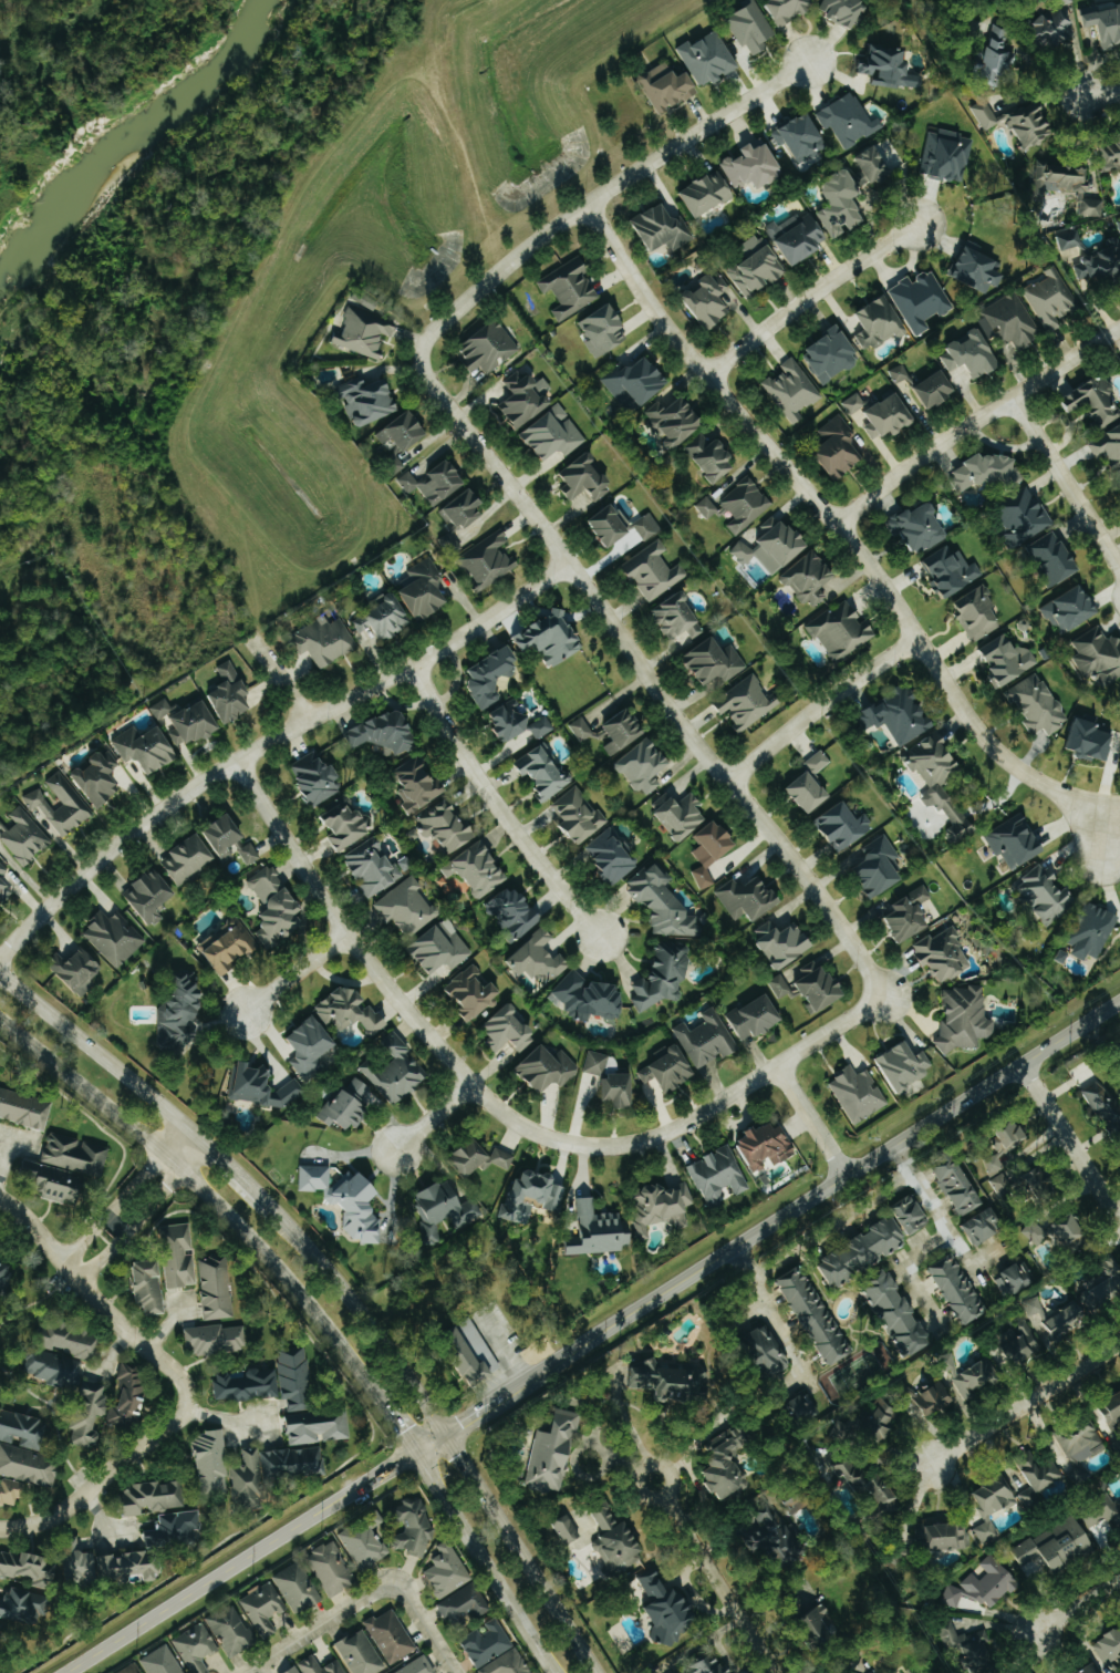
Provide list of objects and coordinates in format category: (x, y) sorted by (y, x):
building: (1059, 1)
building: (777, 8)
building: (839, 11)
building: (1101, 22)
building: (745, 25)
building: (1047, 28)
building: (703, 55)
building: (987, 59)
building: (882, 66)
building: (660, 84)
road: (1097, 94)
building: (844, 118)
building: (1012, 123)
building: (796, 136)
river: (128, 138)
building: (1108, 152)
building: (944, 154)
building: (867, 163)
building: (745, 165)
building: (1064, 185)
building: (699, 192)
road: (592, 198)
building: (833, 202)
building: (654, 227)
building: (1118, 228)
building: (792, 236)
building: (1065, 238)
building: (1098, 260)
building: (750, 267)
building: (972, 268)
building: (564, 287)
building: (702, 297)
building: (1048, 297)
road: (808, 298)
building: (916, 299)
building: (873, 320)
building: (1005, 320)
building: (597, 328)
building: (363, 330)
building: (480, 345)
building: (965, 352)
building: (823, 353)
building: (895, 372)
building: (630, 379)
building: (927, 386)
building: (790, 389)
building: (360, 399)
building: (1088, 400)
building: (517, 401)
building: (874, 412)
building: (667, 419)
road: (974, 422)
building: (396, 428)
building: (547, 432)
building: (832, 446)
building: (1107, 446)
building: (704, 456)
building: (579, 479)
building: (427, 481)
building: (1119, 483)
road: (1067, 485)
building: (742, 504)
building: (704, 506)
building: (456, 509)
building: (1018, 516)
building: (602, 523)
building: (644, 525)
road: (834, 525)
building: (912, 527)
building: (774, 540)
building: (447, 541)
building: (740, 550)
building: (1046, 557)
building: (483, 560)
building: (945, 569)
building: (649, 570)
building: (803, 578)
building: (416, 588)
building: (1064, 608)
building: (972, 612)
building: (671, 616)
building: (381, 617)
building: (837, 630)
building: (543, 636)
building: (324, 640)
building: (1095, 655)
building: (1003, 659)
building: (707, 660)
building: (483, 674)
road: (279, 675)
road: (652, 688)
building: (232, 693)
building: (742, 702)
building: (1035, 704)
building: (163, 708)
road: (819, 708)
building: (891, 716)
building: (501, 719)
building: (195, 724)
building: (539, 724)
building: (578, 727)
building: (613, 730)
building: (380, 733)
building: (1085, 741)
road: (270, 742)
building: (148, 747)
building: (815, 761)
building: (636, 764)
building: (537, 772)
building: (932, 775)
building: (101, 777)
building: (318, 777)
building: (412, 783)
building: (799, 791)
building: (37, 799)
road: (1116, 805)
road: (496, 810)
building: (673, 814)
building: (572, 815)
building: (346, 824)
building: (836, 824)
building: (439, 827)
building: (227, 833)
road: (1107, 836)
building: (27, 837)
building: (1010, 839)
building: (704, 850)
building: (251, 853)
building: (189, 858)
building: (605, 858)
building: (376, 866)
building: (872, 866)
building: (471, 869)
building: (1038, 892)
building: (152, 895)
building: (742, 898)
building: (658, 902)
building: (407, 906)
building: (277, 907)
building: (508, 913)
building: (902, 913)
building: (1088, 930)
building: (115, 937)
building: (777, 942)
building: (229, 946)
building: (440, 949)
building: (937, 954)
building: (531, 957)
building: (79, 968)
road: (297, 974)
building: (657, 974)
building: (777, 984)
building: (810, 985)
road: (388, 991)
building: (474, 992)
building: (583, 998)
building: (352, 1010)
building: (182, 1015)
building: (746, 1016)
building: (960, 1016)
building: (510, 1030)
building: (702, 1039)
building: (312, 1046)
building: (1096, 1054)
building: (597, 1063)
building: (899, 1065)
building: (548, 1067)
building: (397, 1070)
building: (662, 1071)
road: (750, 1084)
building: (263, 1087)
building: (618, 1089)
building: (853, 1092)
building: (353, 1105)
building: (25, 1108)
road: (432, 1118)
road: (810, 1122)
building: (1000, 1142)
road: (1071, 1144)
building: (758, 1146)
building: (77, 1154)
building: (483, 1157)
road: (148, 1169)
building: (714, 1173)
building: (58, 1181)
building: (997, 1184)
road: (166, 1187)
building: (951, 1187)
building: (533, 1192)
road: (211, 1197)
building: (349, 1199)
building: (664, 1205)
building: (445, 1209)
building: (903, 1214)
road: (935, 1214)
road: (117, 1223)
road: (834, 1225)
building: (1057, 1225)
building: (973, 1226)
road: (765, 1227)
building: (602, 1230)
building: (1033, 1231)
road: (85, 1238)
building: (853, 1250)
building: (180, 1254)
road: (103, 1257)
road: (984, 1261)
road: (906, 1270)
building: (6, 1276)
building: (1012, 1276)
building: (1101, 1281)
road: (342, 1284)
building: (152, 1285)
building: (218, 1288)
building: (951, 1288)
road: (91, 1293)
road: (771, 1305)
building: (886, 1311)
building: (1046, 1314)
building: (809, 1315)
building: (69, 1339)
building: (217, 1339)
building: (1013, 1342)
road: (502, 1347)
building: (765, 1349)
building: (477, 1355)
building: (958, 1374)
building: (673, 1381)
building: (900, 1390)
building: (289, 1397)
building: (929, 1397)
building: (131, 1398)
building: (96, 1401)
building: (805, 1406)
road: (1023, 1406)
building: (1108, 1411)
building: (875, 1423)
road: (632, 1428)
traffic signals: (445, 1432)
road: (398, 1434)
building: (25, 1448)
building: (554, 1450)
traffic signals: (413, 1455)
building: (728, 1460)
building: (212, 1462)
building: (1034, 1469)
building: (271, 1471)
road: (107, 1474)
building: (872, 1486)
building: (11, 1493)
building: (1025, 1496)
building: (155, 1497)
building: (988, 1502)
building: (1102, 1514)
road: (689, 1527)
building: (415, 1528)
building: (566, 1531)
building: (943, 1535)
building: (774, 1538)
building: (619, 1541)
building: (365, 1545)
building: (1048, 1548)
building: (135, 1553)
road: (238, 1563)
road: (480, 1563)
building: (28, 1569)
building: (332, 1569)
building: (448, 1570)
building: (981, 1584)
building: (299, 1588)
building: (465, 1605)
building: (22, 1608)
building: (265, 1608)
building: (670, 1608)
road: (1075, 1609)
building: (821, 1624)
road: (320, 1625)
road: (423, 1625)
building: (232, 1630)
building: (392, 1635)
building: (489, 1642)
building: (962, 1643)
building: (1108, 1644)
building: (197, 1648)
building: (361, 1653)
building: (164, 1661)
building: (508, 1664)
building: (311, 1665)
building: (419, 1666)
building: (715, 1666)
building: (133, 1669)
building: (1083, 1669)
building: (294, 1670)

